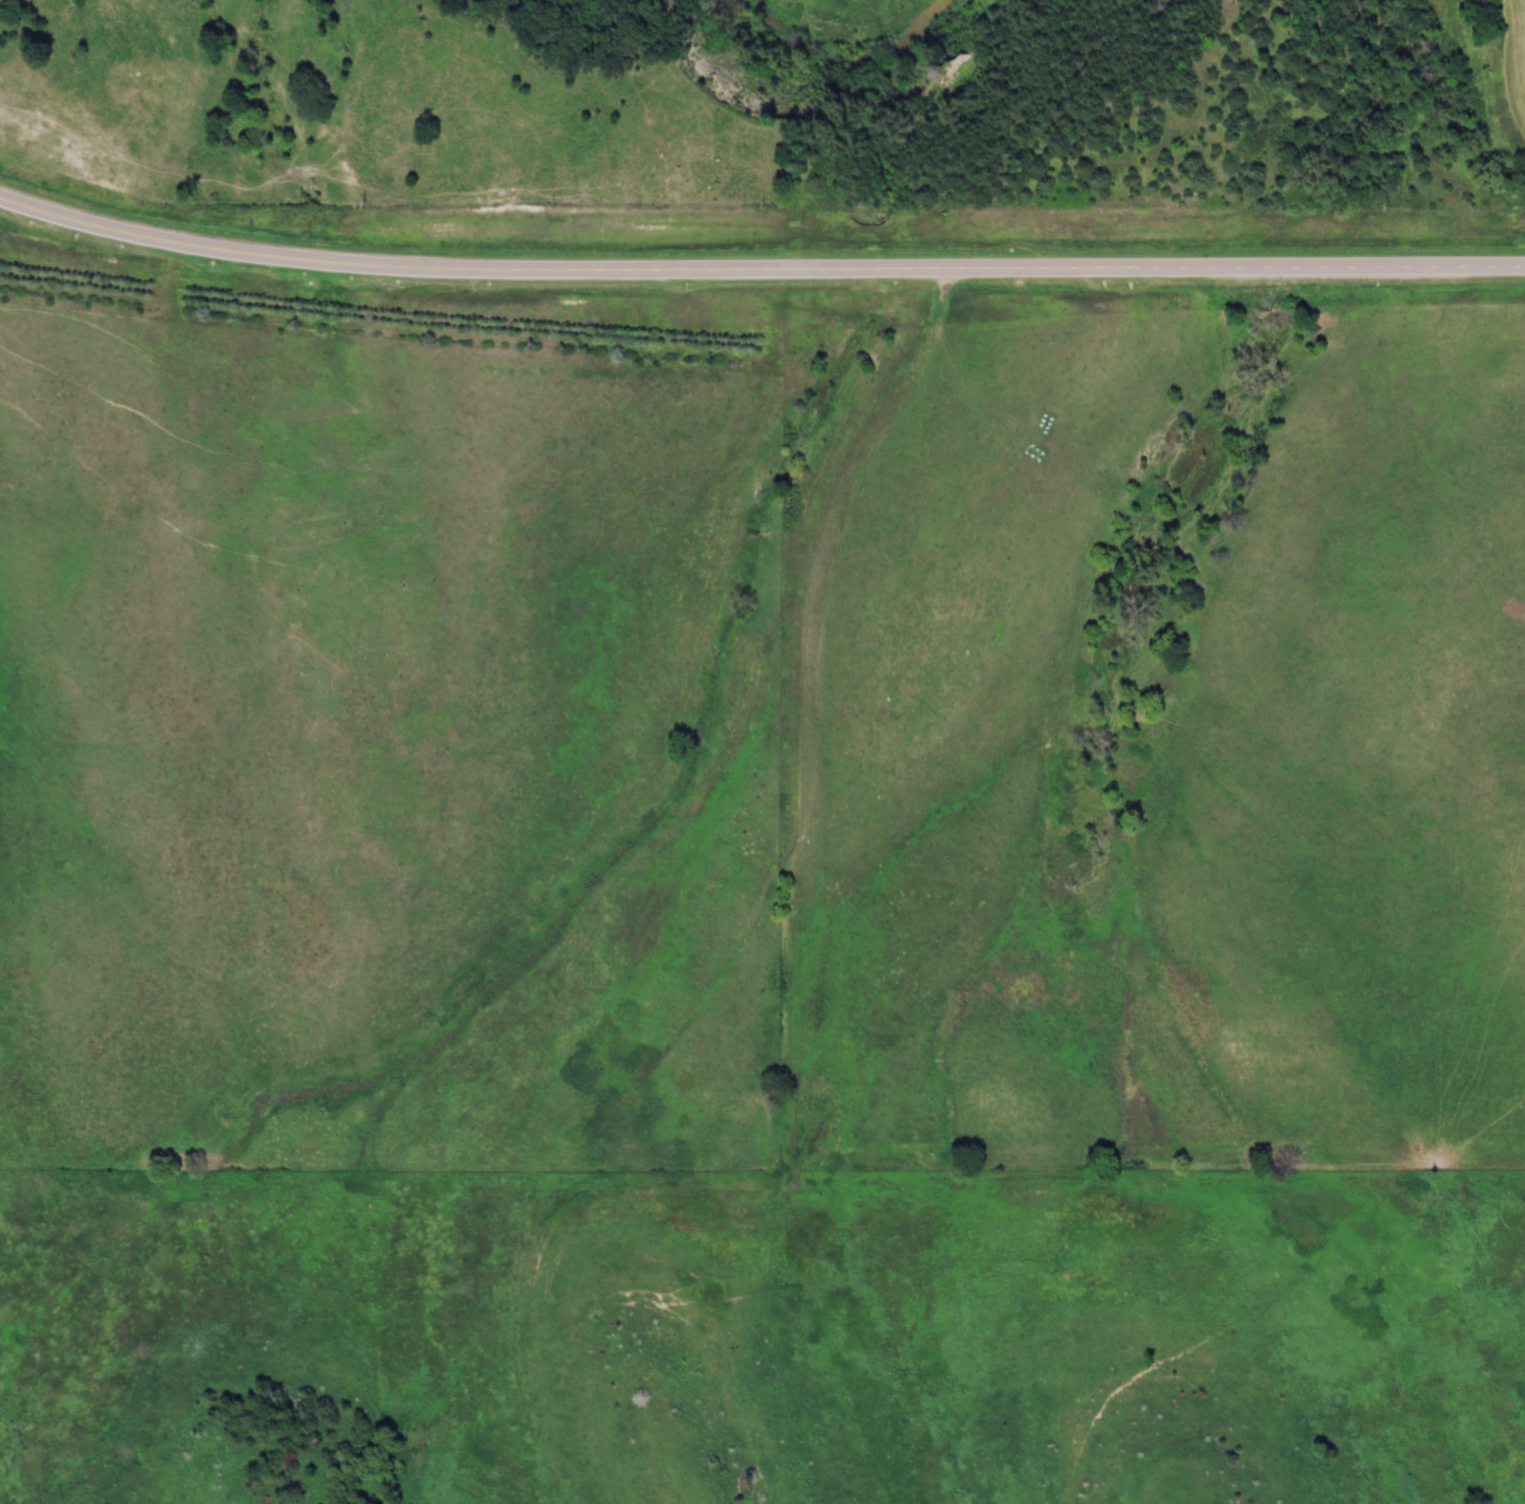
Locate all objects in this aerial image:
road: (758, 275)

